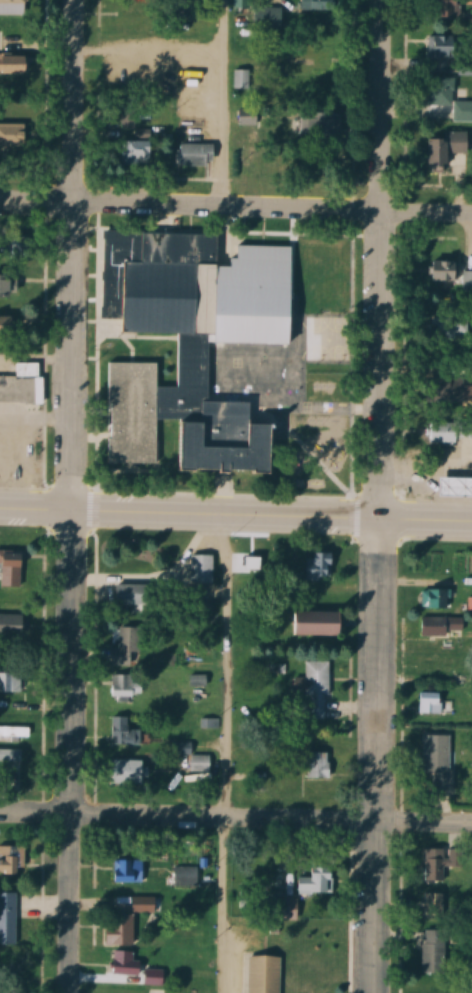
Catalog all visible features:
building: (15, 1)
building: (241, 4)
building: (321, 5)
building: (452, 8)
building: (268, 17)
building: (126, 19)
building: (447, 46)
building: (313, 60)
building: (15, 64)
building: (241, 78)
building: (443, 104)
road: (221, 106)
building: (329, 124)
building: (12, 134)
building: (450, 147)
building: (137, 152)
building: (198, 154)
road: (235, 212)
building: (20, 246)
road: (76, 257)
road: (378, 262)
building: (257, 265)
building: (452, 273)
building: (8, 286)
building: (7, 327)
building: (450, 328)
building: (201, 351)
building: (21, 385)
building: (452, 391)
building: (451, 433)
building: (456, 487)
road: (37, 512)
road: (273, 521)
building: (319, 567)
building: (13, 568)
building: (202, 569)
building: (132, 596)
building: (437, 598)
building: (469, 605)
building: (13, 624)
building: (319, 624)
building: (440, 627)
building: (129, 647)
building: (12, 682)
building: (316, 689)
building: (430, 703)
building: (125, 732)
building: (16, 734)
road: (70, 753)
building: (12, 757)
road: (370, 759)
building: (200, 764)
building: (436, 764)
building: (319, 766)
building: (131, 771)
building: (259, 782)
road: (236, 820)
building: (13, 859)
building: (431, 865)
building: (129, 871)
building: (186, 876)
building: (316, 881)
building: (433, 905)
road: (220, 906)
building: (287, 909)
building: (8, 918)
building: (127, 921)
building: (431, 956)
building: (136, 969)
building: (264, 975)
building: (155, 991)

